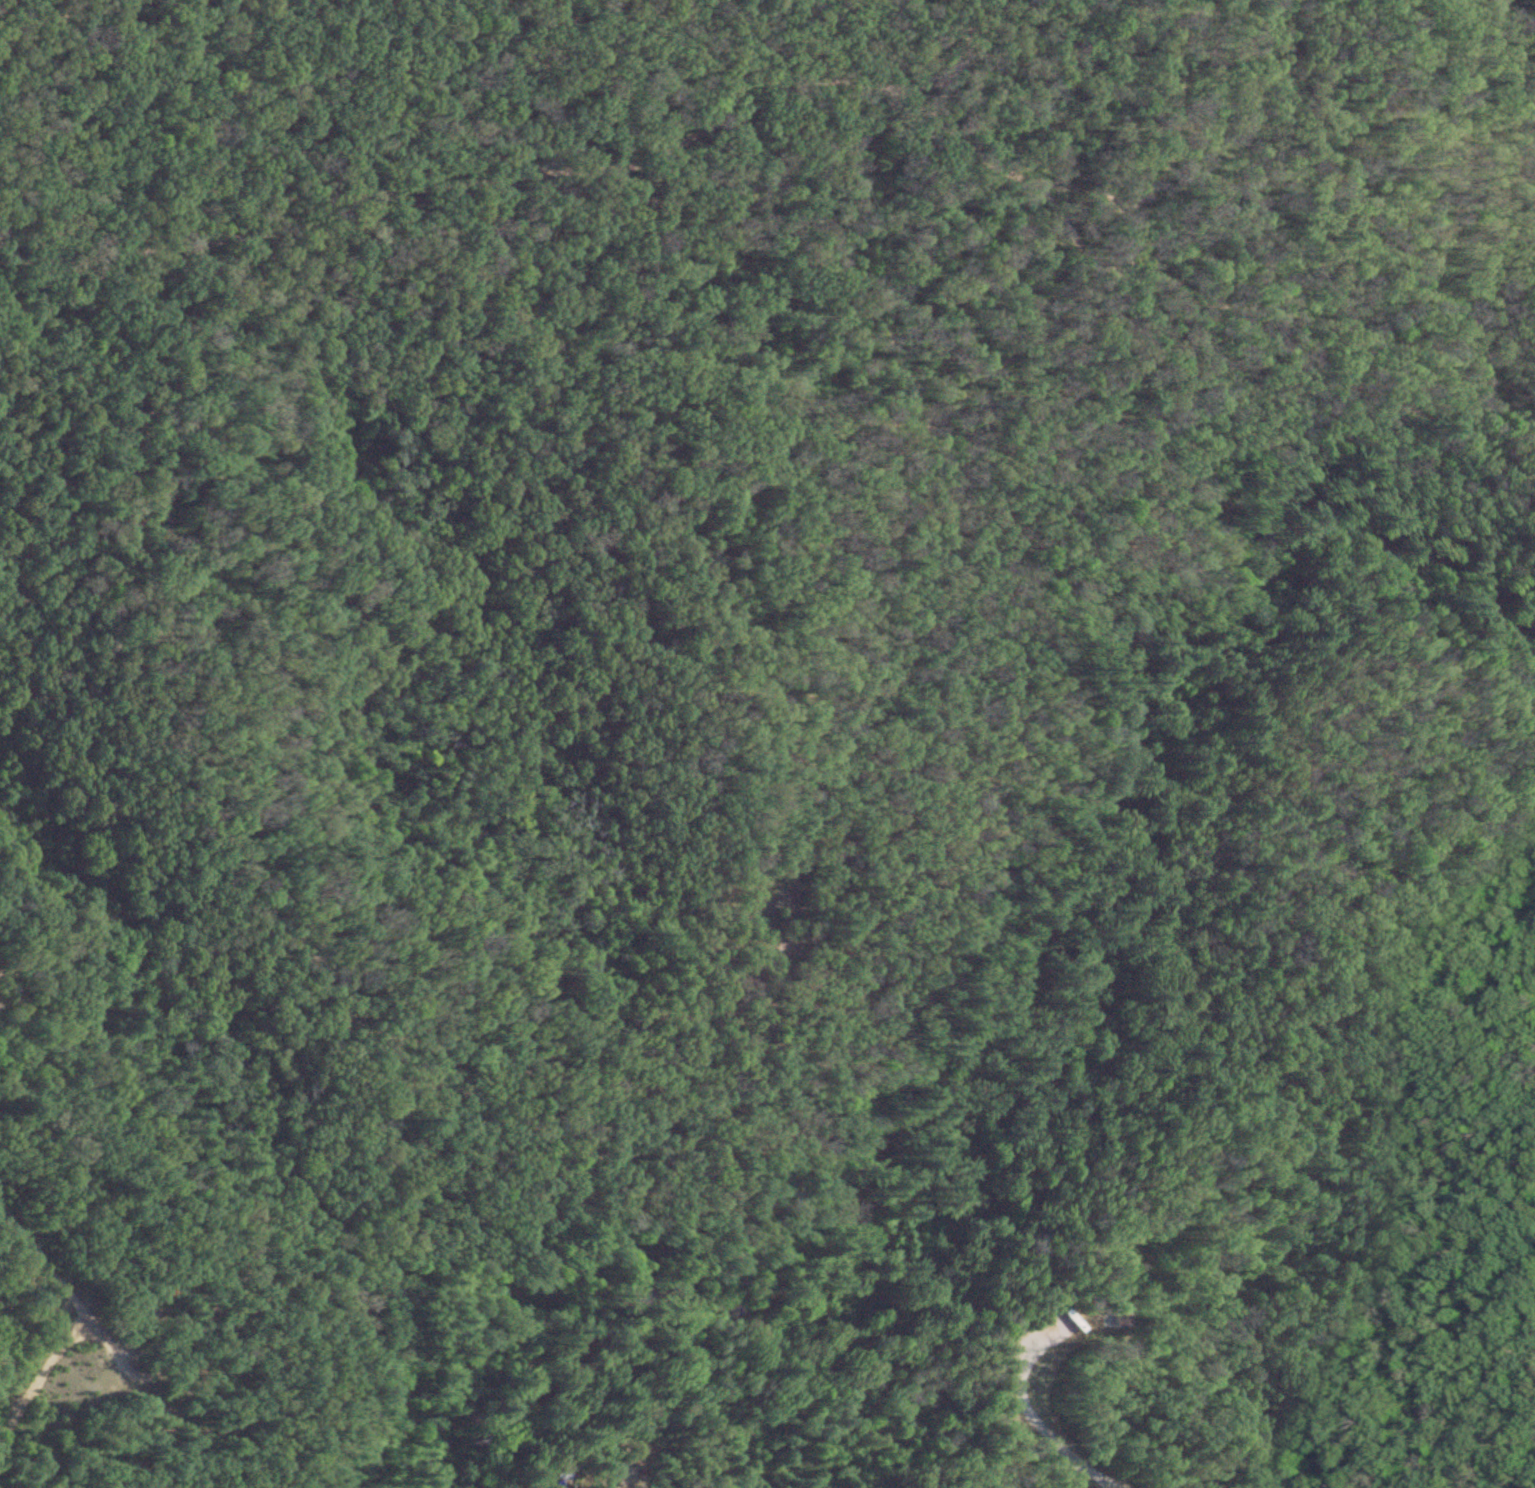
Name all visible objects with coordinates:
road: (967, 33)
road: (847, 82)
road: (1477, 1403)
road: (1045, 1428)

